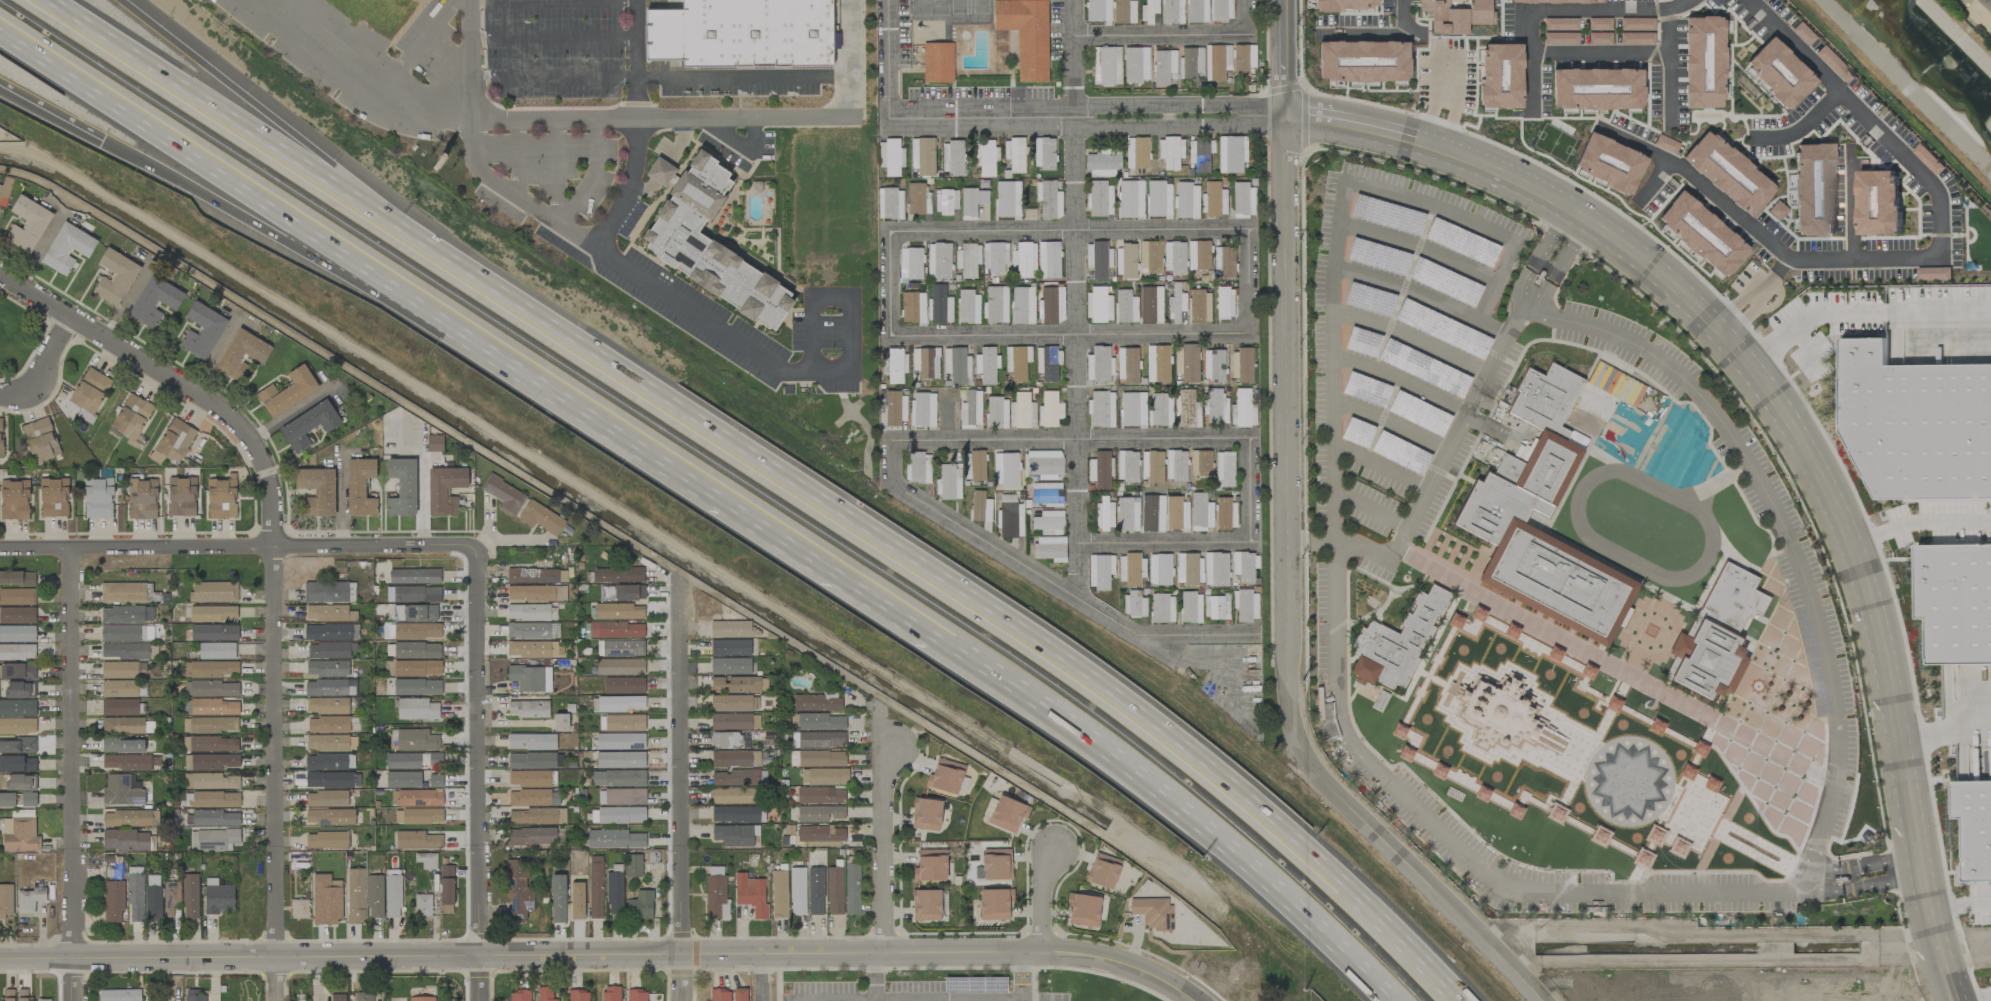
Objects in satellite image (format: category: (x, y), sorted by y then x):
building: (1559, 2)
building: (1346, 5)
building: (1098, 10)
building: (1221, 10)
road: (1559, 10)
building: (1124, 11)
building: (1148, 11)
building: (1172, 11)
building: (1197, 11)
wastewater plant: (1976, 14)
road: (1248, 16)
building: (1456, 16)
road: (1404, 18)
road: (469, 21)
building: (738, 32)
road: (1161, 32)
building: (1026, 35)
road: (1368, 36)
building: (1561, 38)
building: (1599, 38)
road: (552, 40)
parking lot: (554, 48)
road: (1600, 56)
road: (889, 57)
road: (1281, 57)
building: (1243, 58)
road: (635, 59)
building: (1364, 61)
road: (470, 62)
building: (937, 62)
building: (1217, 62)
building: (1704, 62)
building: (1191, 63)
building: (1136, 65)
building: (1107, 66)
building: (1163, 67)
road: (1669, 67)
building: (1779, 72)
building: (1501, 75)
road: (742, 78)
road: (552, 79)
building: (1597, 88)
road: (1444, 101)
road: (1179, 107)
road: (983, 115)
road: (50, 116)
road: (470, 118)
road: (600, 120)
road: (1178, 125)
road: (1801, 127)
road: (248, 132)
road: (281, 133)
building: (1170, 152)
building: (1044, 153)
building: (1136, 153)
building: (1015, 154)
building: (1200, 154)
building: (1231, 154)
building: (922, 156)
road: (209, 157)
building: (890, 157)
building: (985, 157)
building: (952, 158)
building: (1103, 163)
building: (1609, 163)
building: (660, 172)
building: (1728, 172)
road: (1652, 182)
building: (0, 187)
road: (628, 189)
building: (1814, 190)
building: (1099, 198)
building: (916, 199)
building: (1007, 199)
building: (1243, 199)
building: (1048, 200)
building: (1214, 200)
building: (1187, 201)
building: (946, 202)
building: (972, 202)
building: (1878, 202)
building: (890, 203)
road: (1852, 203)
road: (1340, 208)
road: (61, 213)
building: (1387, 215)
road: (259, 218)
building: (28, 224)
road: (1071, 228)
building: (1702, 234)
building: (1460, 242)
road: (1560, 245)
building: (711, 246)
building: (67, 248)
road: (40, 250)
building: (1198, 255)
building: (1378, 256)
building: (994, 257)
building: (1150, 257)
building: (1174, 258)
building: (968, 259)
building: (1098, 259)
road: (1911, 259)
building: (938, 260)
building: (1023, 260)
building: (1048, 260)
building: (1126, 260)
building: (1224, 262)
road: (150, 265)
building: (115, 277)
road: (894, 282)
road: (1249, 282)
building: (1444, 282)
road: (1078, 296)
road: (1754, 296)
road: (1529, 297)
road: (127, 300)
building: (155, 301)
building: (1224, 303)
building: (996, 304)
building: (1098, 304)
building: (1176, 304)
building: (939, 305)
building: (1022, 305)
building: (1051, 305)
building: (1199, 306)
building: (912, 307)
building: (968, 307)
building: (1125, 307)
road: (1861, 313)
road: (236, 317)
building: (202, 330)
building: (1444, 330)
road: (1072, 334)
parking lot: (1396, 334)
park: (16, 336)
road: (728, 337)
road: (215, 353)
building: (241, 354)
building: (925, 362)
building: (1017, 362)
building: (1047, 363)
building: (1189, 363)
building: (894, 364)
building: (1099, 364)
building: (957, 365)
building: (986, 365)
building: (1127, 365)
building: (1214, 365)
building: (1241, 365)
building: (1424, 368)
road: (45, 371)
road: (1754, 375)
road: (1682, 379)
road: (326, 389)
building: (90, 390)
building: (1366, 390)
building: (287, 391)
building: (1215, 407)
building: (1131, 408)
building: (894, 409)
building: (923, 409)
building: (1101, 409)
building: (1242, 409)
building: (970, 410)
building: (1049, 410)
building: (1160, 410)
building: (1022, 412)
building: (996, 413)
building: (1419, 413)
road: (288, 414)
building: (132, 418)
building: (1917, 424)
building: (308, 425)
building: (1, 438)
road: (1073, 438)
building: (40, 440)
building: (174, 442)
building: (434, 443)
road: (349, 449)
building: (1400, 453)
building: (1533, 458)
building: (1200, 463)
building: (1044, 464)
road: (677, 465)
road: (423, 466)
building: (1126, 466)
building: (1176, 466)
building: (1152, 467)
building: (918, 468)
building: (1224, 469)
building: (1099, 470)
building: (949, 482)
building: (402, 487)
building: (360, 488)
building: (317, 490)
building: (445, 490)
road: (1254, 491)
building: (1046, 493)
building: (503, 495)
building: (53, 497)
building: (182, 497)
building: (98, 498)
building: (142, 499)
building: (221, 499)
building: (14, 500)
road: (340, 500)
building: (980, 507)
road: (1915, 511)
building: (1104, 512)
building: (1201, 512)
building: (1225, 513)
building: (1127, 515)
building: (541, 518)
road: (1308, 539)
road: (1168, 542)
road: (999, 545)
road: (238, 546)
building: (1049, 548)
building: (1243, 566)
road: (274, 567)
building: (1187, 568)
building: (1130, 569)
building: (1215, 569)
building: (1100, 571)
building: (617, 575)
building: (414, 576)
building: (17, 578)
building: (1561, 578)
building: (123, 592)
building: (213, 592)
building: (329, 592)
building: (622, 592)
building: (537, 593)
building: (416, 594)
building: (1734, 594)
building: (17, 597)
building: (1955, 602)
building: (1133, 604)
road: (1285, 604)
building: (1246, 605)
road: (971, 607)
building: (1191, 607)
building: (1217, 607)
building: (1162, 608)
building: (619, 611)
building: (528, 612)
building: (329, 613)
building: (415, 613)
building: (126, 614)
building: (213, 614)
building: (17, 615)
building: (1468, 621)
building: (528, 630)
building: (616, 630)
building: (417, 631)
building: (214, 632)
building: (331, 632)
building: (123, 633)
building: (17, 634)
road: (1198, 634)
building: (1402, 641)
building: (730, 647)
building: (620, 648)
building: (533, 649)
building: (330, 650)
building: (416, 650)
building: (125, 651)
building: (216, 651)
building: (17, 652)
building: (1712, 658)
road: (1617, 663)
building: (730, 666)
building: (620, 667)
building: (327, 668)
building: (413, 668)
building: (211, 669)
building: (123, 670)
building: (17, 671)
building: (530, 678)
building: (735, 684)
building: (624, 685)
building: (329, 687)
building: (417, 687)
building: (119, 688)
building: (214, 688)
building: (20, 690)
building: (817, 702)
building: (621, 703)
building: (733, 703)
building: (327, 705)
building: (119, 707)
building: (214, 707)
building: (17, 708)
building: (416, 709)
building: (529, 709)
building: (1507, 715)
road: (1942, 719)
building: (734, 721)
building: (560, 722)
building: (821, 722)
building: (621, 723)
building: (328, 724)
building: (122, 725)
building: (210, 725)
building: (17, 726)
building: (821, 739)
building: (416, 740)
building: (725, 740)
building: (531, 741)
building: (620, 741)
building: (327, 743)
building: (210, 744)
building: (122, 745)
building: (17, 746)
road: (478, 751)
building: (734, 758)
building: (821, 759)
building: (532, 760)
building: (620, 760)
building: (402, 761)
building: (126, 762)
building: (211, 762)
building: (329, 762)
building: (17, 764)
road: (74, 774)
building: (824, 776)
building: (945, 776)
building: (618, 778)
building: (736, 778)
building: (403, 779)
building: (328, 780)
building: (215, 781)
building: (435, 781)
building: (21, 782)
building: (122, 790)
road: (681, 793)
building: (734, 795)
building: (820, 795)
building: (621, 797)
building: (416, 798)
building: (533, 798)
building: (28, 799)
building: (215, 799)
building: (326, 799)
building: (7, 800)
road: (1172, 803)
road: (1830, 808)
building: (819, 813)
building: (735, 814)
building: (926, 814)
building: (1007, 814)
building: (617, 815)
building: (418, 816)
building: (536, 816)
building: (329, 817)
building: (130, 818)
building: (215, 818)
road: (1434, 825)
building: (1974, 827)
building: (20, 835)
building: (735, 835)
building: (531, 836)
building: (820, 836)
building: (614, 839)
building: (125, 840)
building: (213, 840)
building: (326, 840)
building: (417, 840)
road: (883, 847)
road: (1809, 848)
building: (426, 860)
road: (1914, 863)
building: (996, 864)
building: (930, 865)
building: (633, 866)
building: (1103, 870)
building: (446, 885)
building: (518, 887)
building: (595, 887)
building: (852, 889)
road: (1841, 889)
building: (834, 890)
building: (797, 891)
building: (815, 891)
building: (614, 893)
building: (135, 894)
building: (393, 894)
building: (716, 894)
building: (751, 894)
building: (779, 894)
road: (1957, 894)
building: (190, 896)
building: (355, 896)
building: (374, 896)
building: (153, 897)
building: (217, 897)
building: (326, 899)
building: (557, 899)
road: (1044, 899)
building: (29, 900)
building: (5, 901)
building: (113, 901)
building: (995, 904)
building: (422, 905)
building: (640, 905)
building: (926, 905)
building: (301, 909)
building: (1083, 910)
building: (1153, 912)
road: (1935, 941)
road: (840, 953)
road: (239, 957)
road: (1026, 974)
road: (873, 976)
road: (758, 978)
road: (480, 979)
building: (609, 993)
road: (1950, 993)
building: (545, 994)
building: (740, 994)
building: (8, 995)
building: (23, 995)
building: (119, 995)
building: (520, 995)
building: (578, 995)
building: (636, 995)
building: (719, 995)
building: (194, 996)
building: (363, 996)
building: (337, 997)
road: (949, 997)
road: (1026, 998)
road: (1985, 998)
building: (43, 999)
building: (421, 999)
road: (832, 999)
road: (873, 1000)

